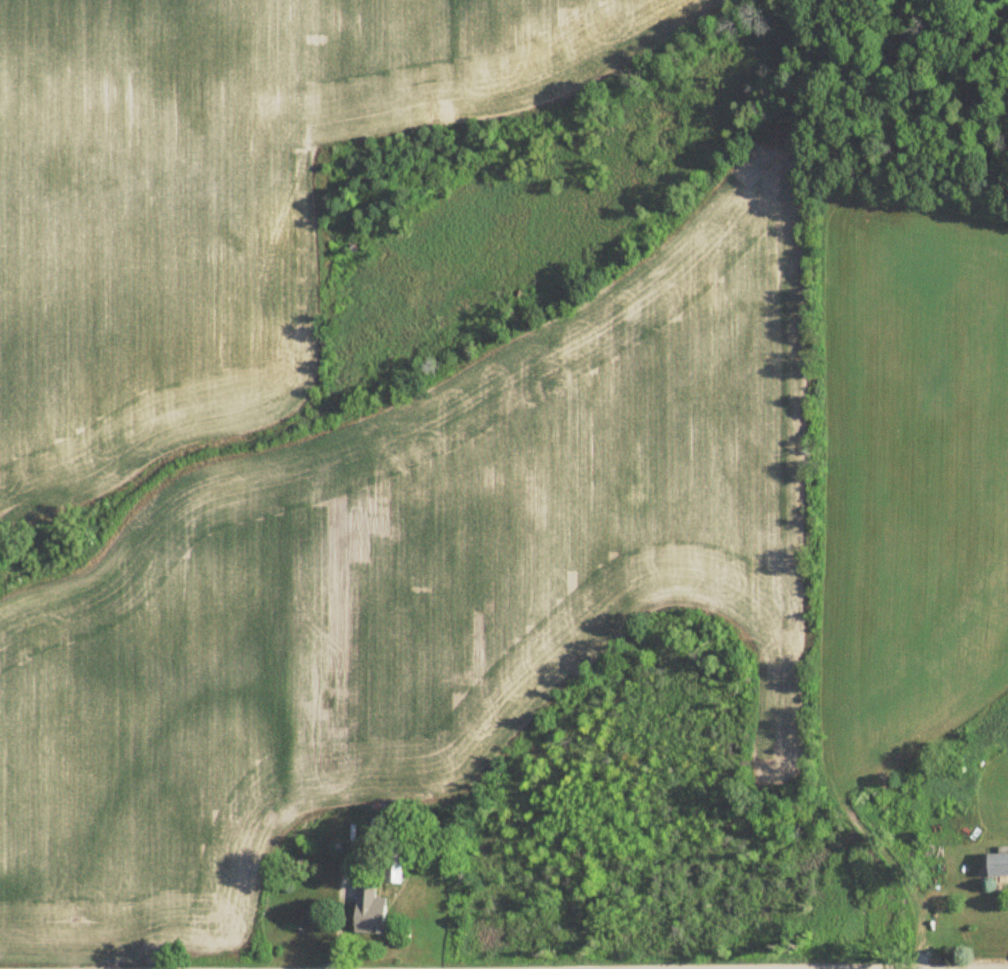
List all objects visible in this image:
building: (380, 830)
building: (396, 865)
building: (999, 865)
building: (373, 911)

